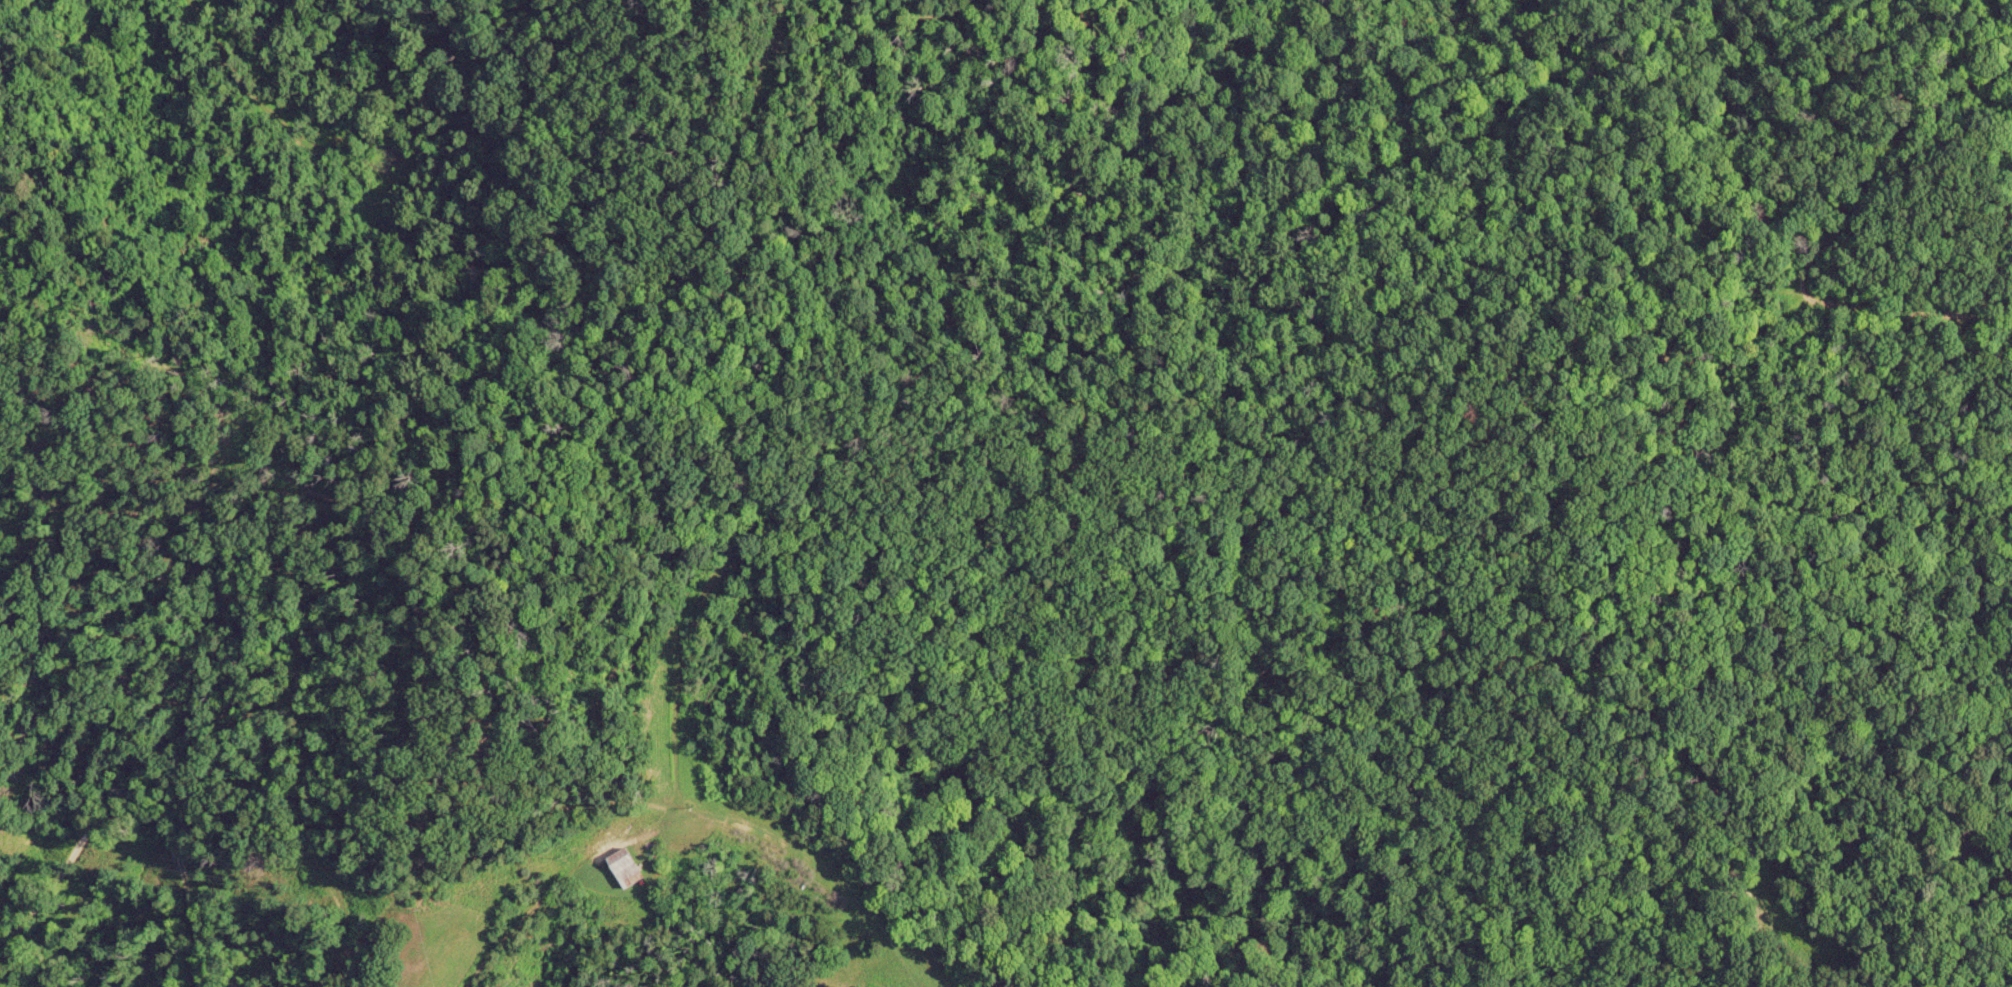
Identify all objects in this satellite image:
road: (212, 113)
road: (135, 837)
building: (618, 870)
road: (527, 921)
road: (718, 936)

